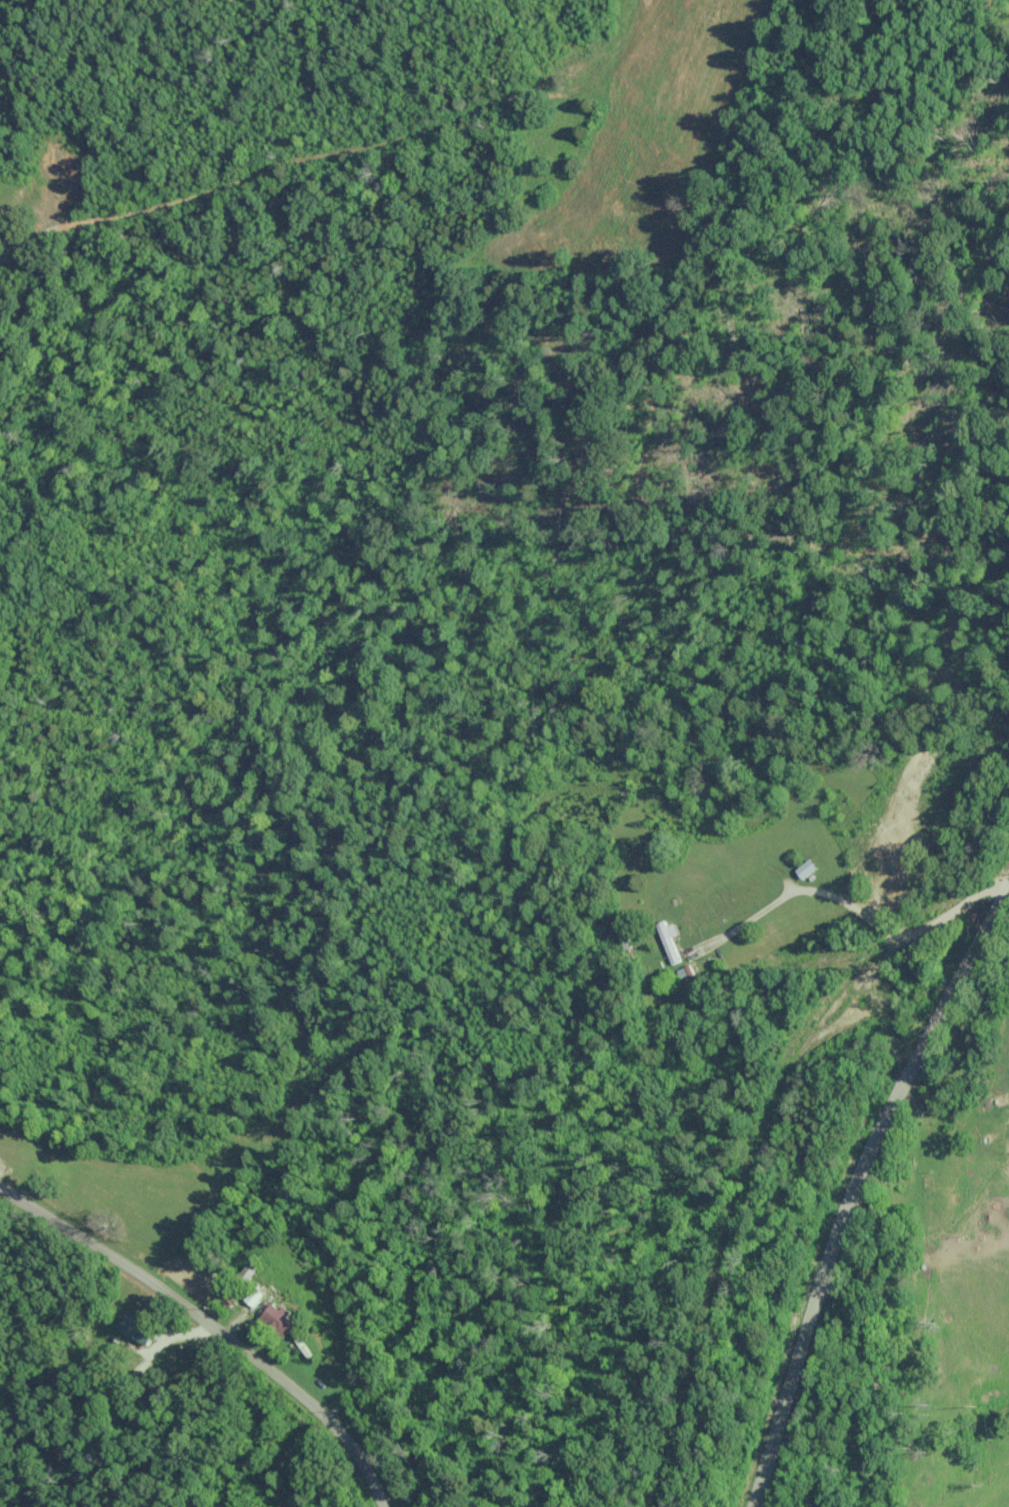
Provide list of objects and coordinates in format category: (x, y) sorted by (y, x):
building: (808, 868)
building: (669, 938)
road: (855, 1191)
building: (258, 1296)
building: (282, 1318)
road: (213, 1324)
building: (138, 1329)
road: (892, 1354)

